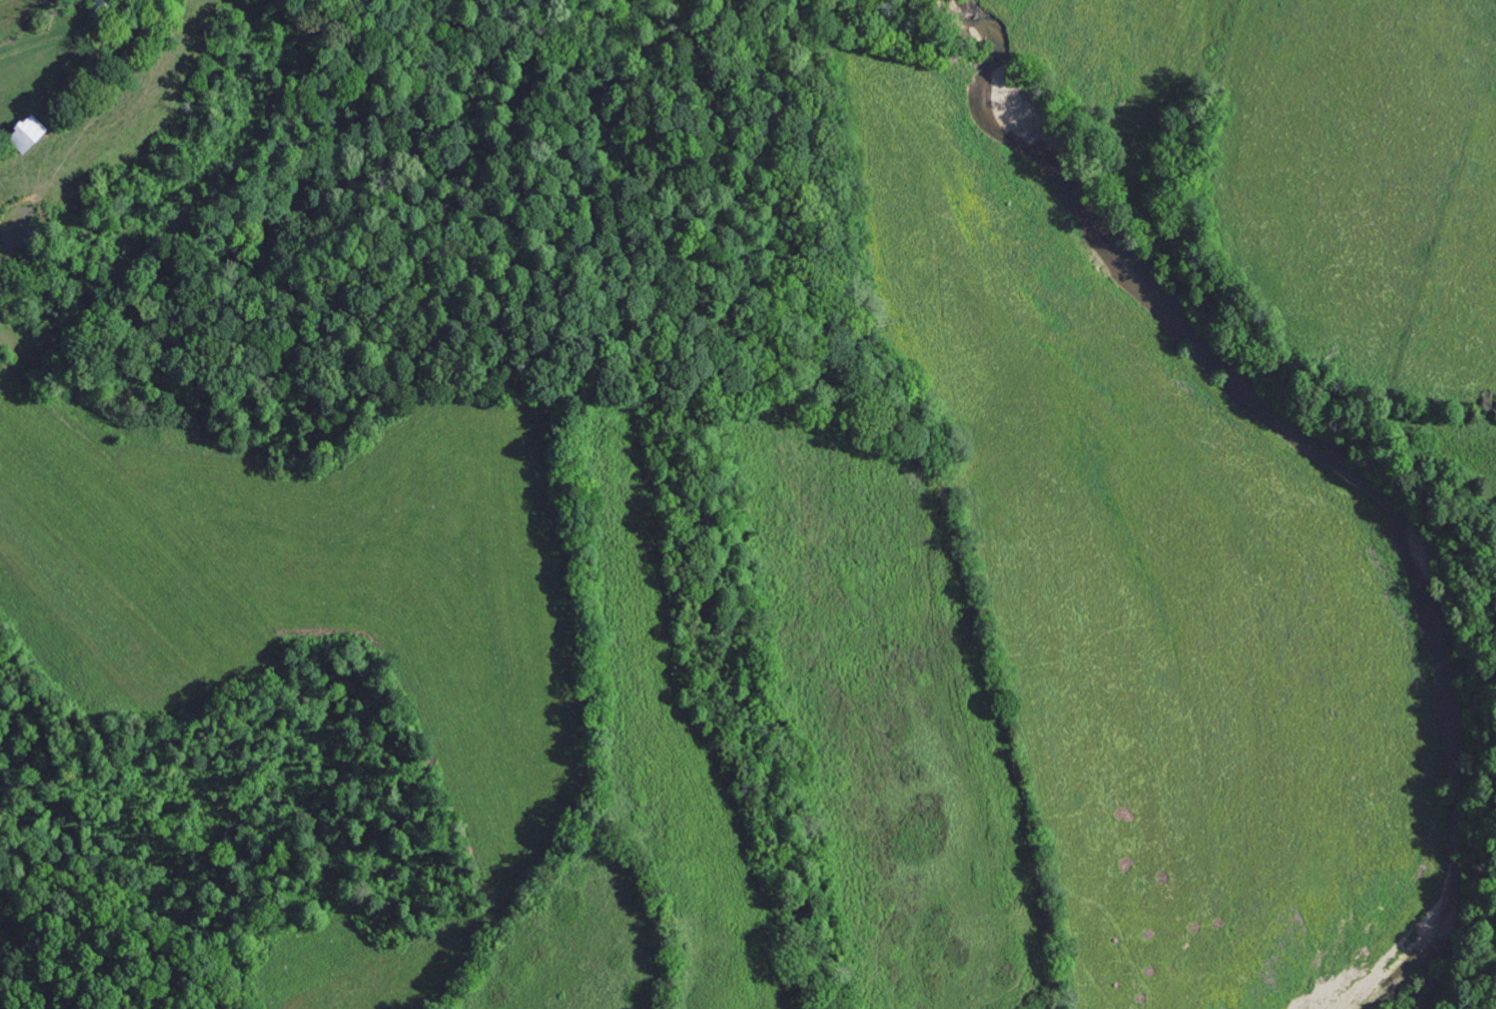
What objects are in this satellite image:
building: (24, 134)
park: (1487, 929)

